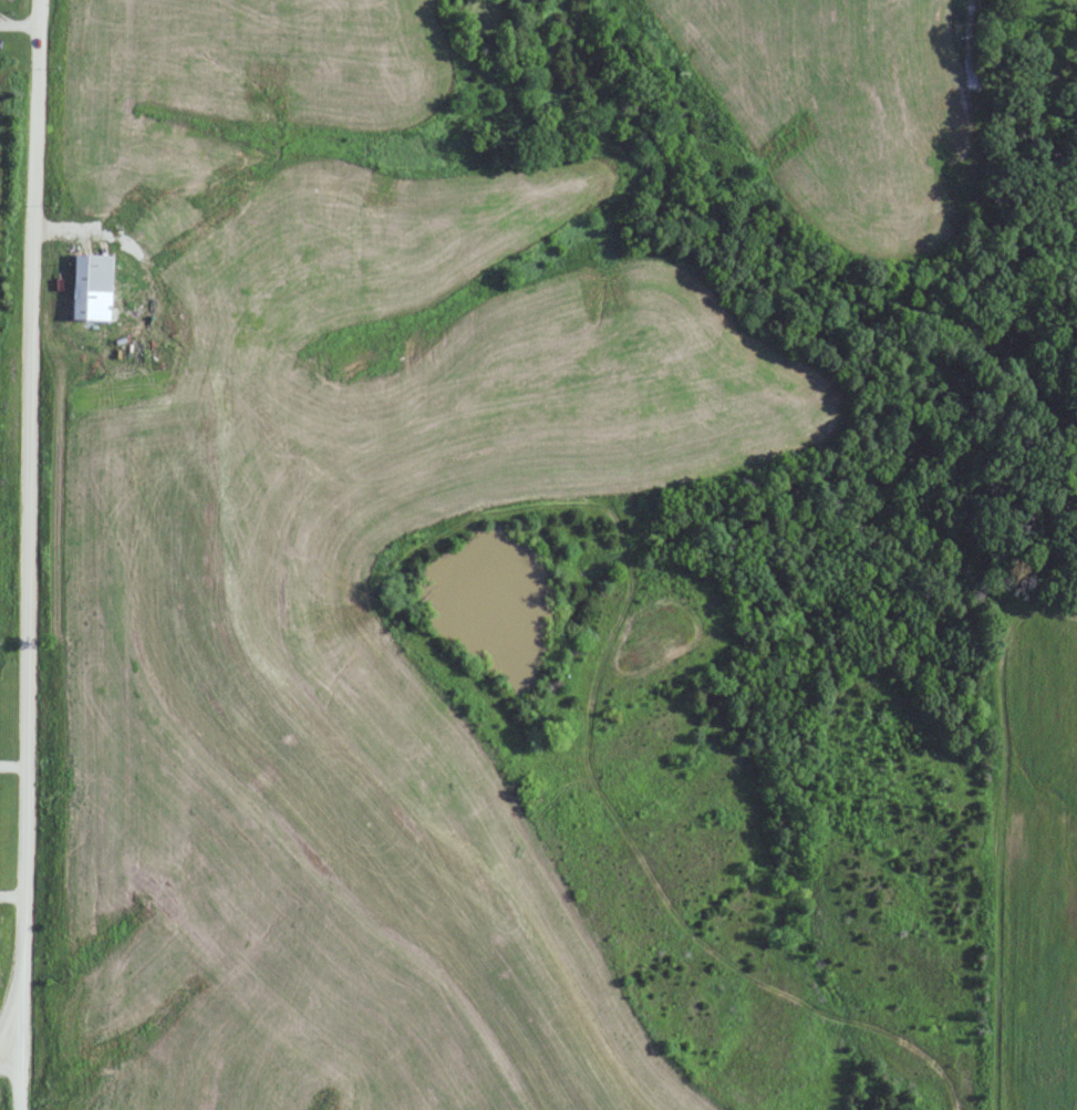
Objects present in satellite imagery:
building: (92, 287)
road: (48, 554)

